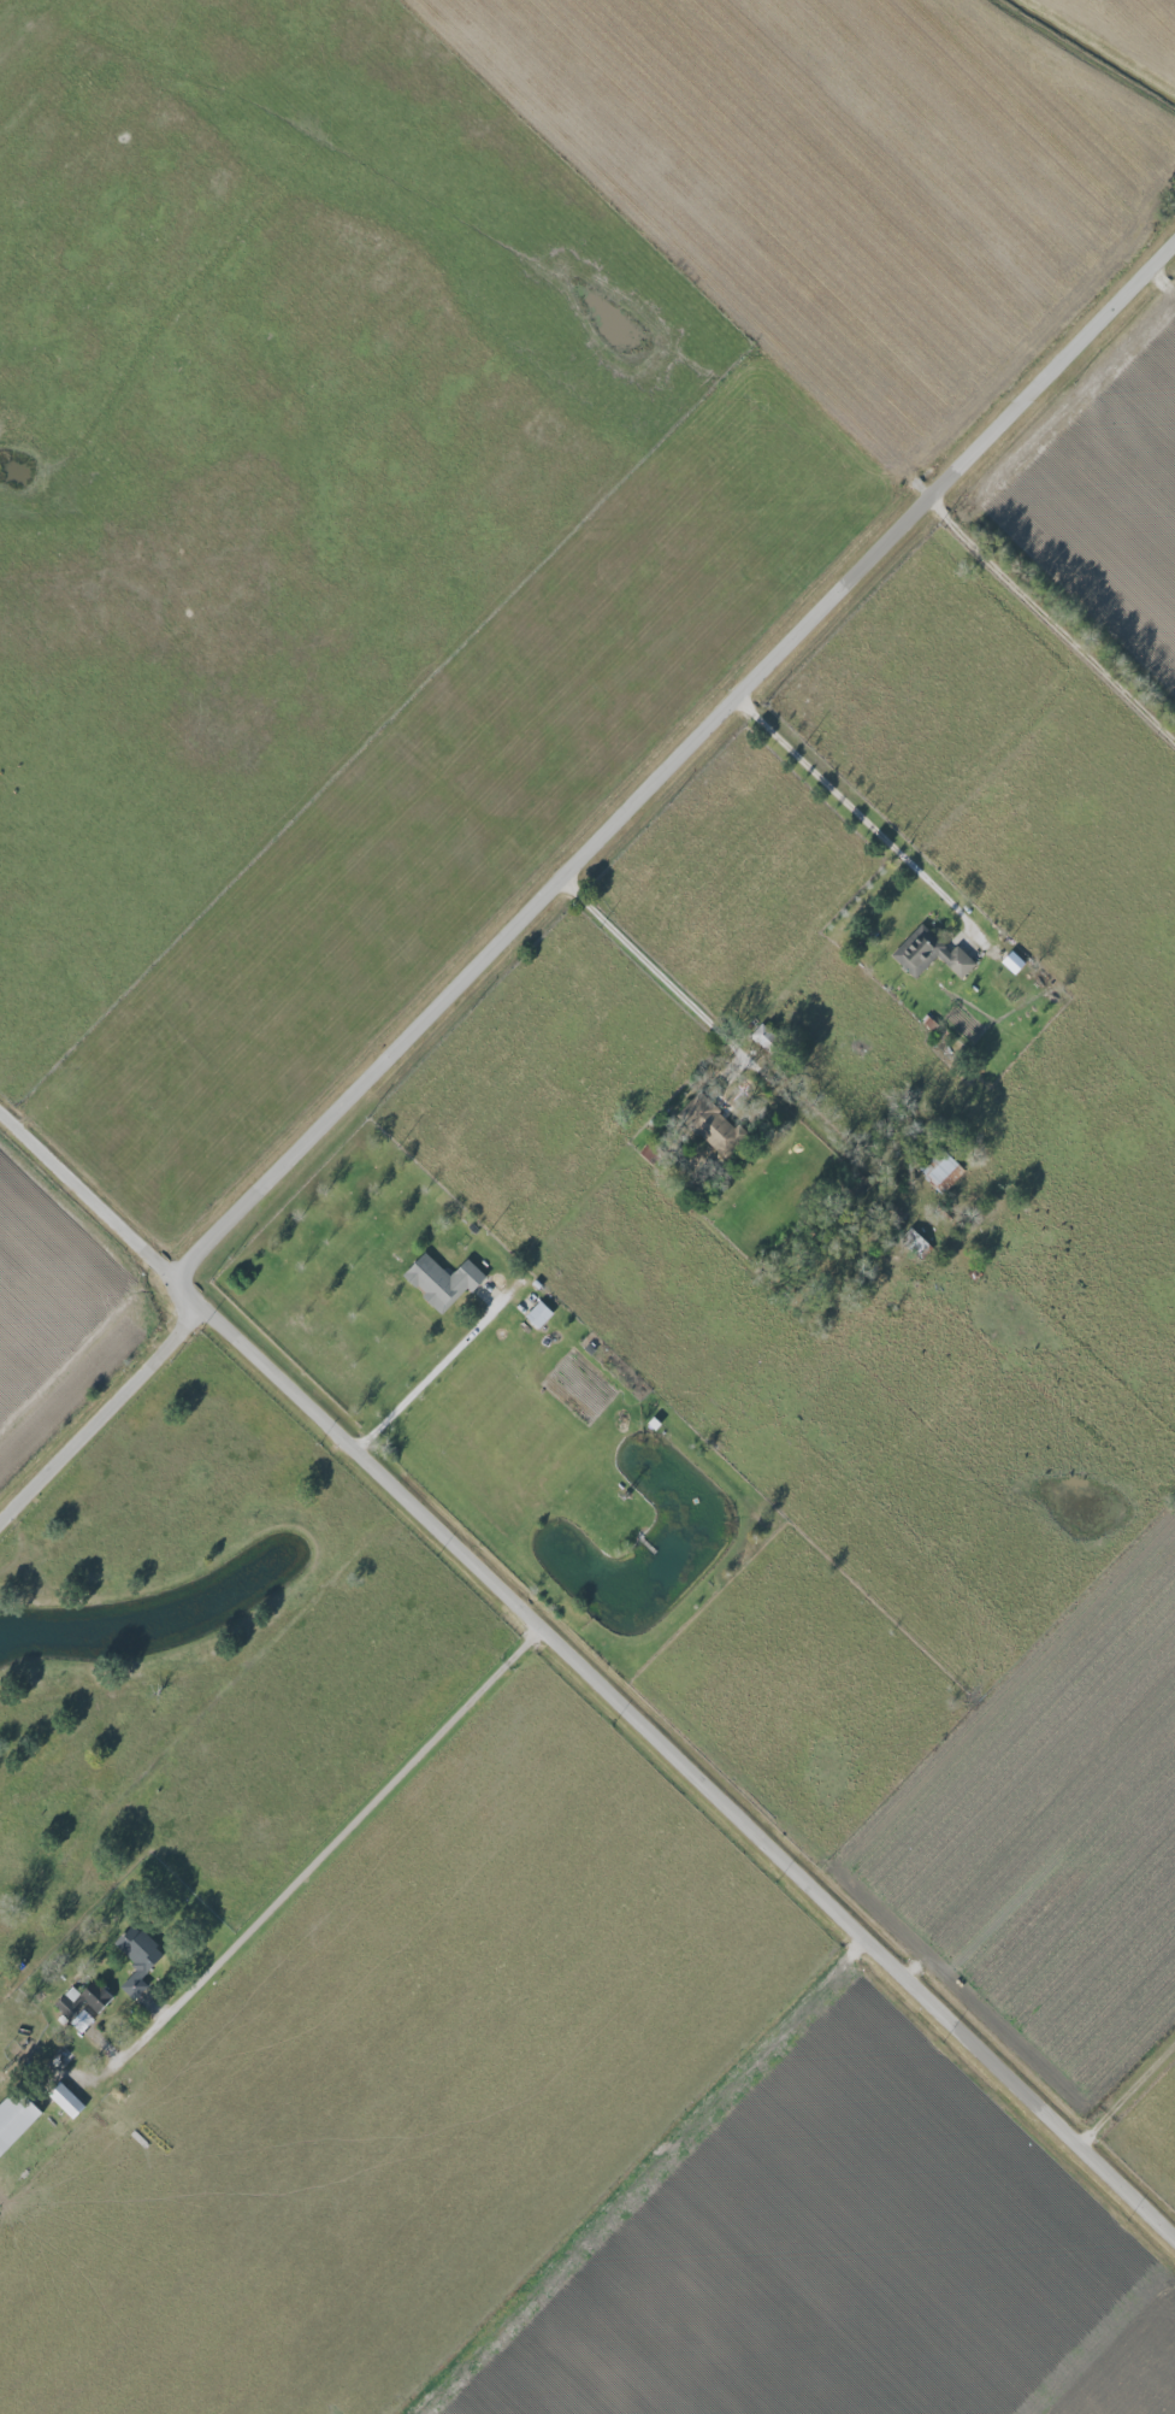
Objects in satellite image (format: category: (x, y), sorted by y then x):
road: (1052, 619)
road: (675, 759)
road: (904, 878)
building: (929, 954)
building: (1011, 962)
road: (718, 1018)
building: (762, 1036)
building: (715, 1129)
building: (941, 1171)
building: (915, 1243)
building: (441, 1282)
building: (538, 1315)
road: (431, 1373)
road: (105, 1415)
road: (587, 1667)
road: (330, 1848)
building: (136, 1957)
building: (82, 1997)
building: (81, 2020)
road: (1128, 2092)
building: (65, 2100)
building: (13, 2119)
road: (640, 2175)

